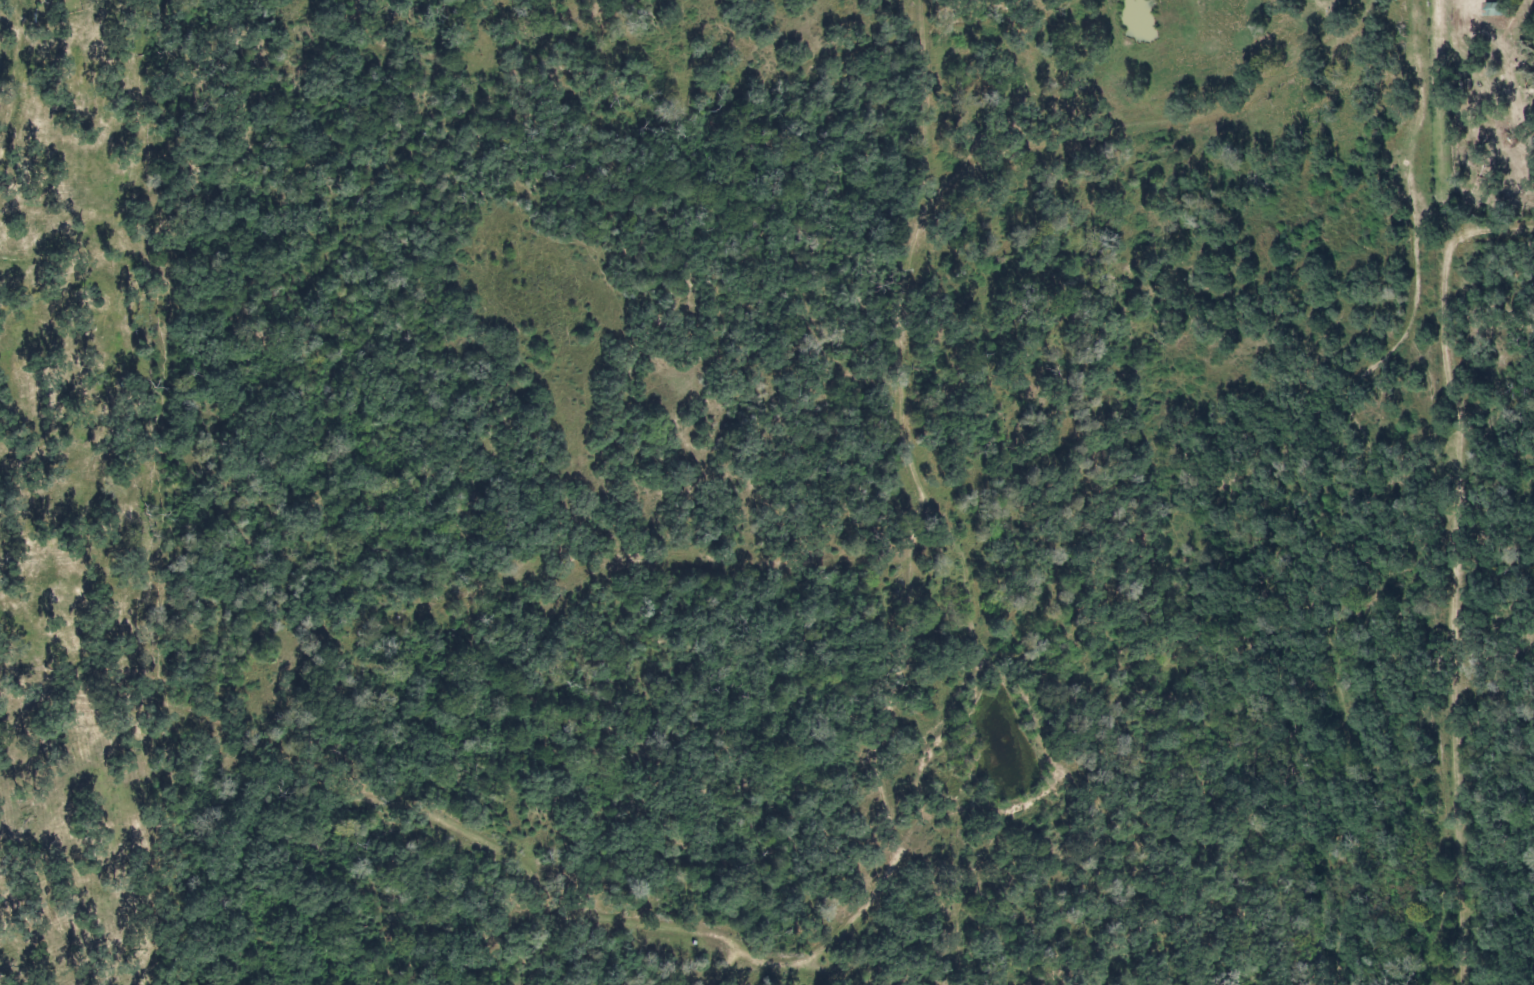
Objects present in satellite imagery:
building: (1489, 12)

